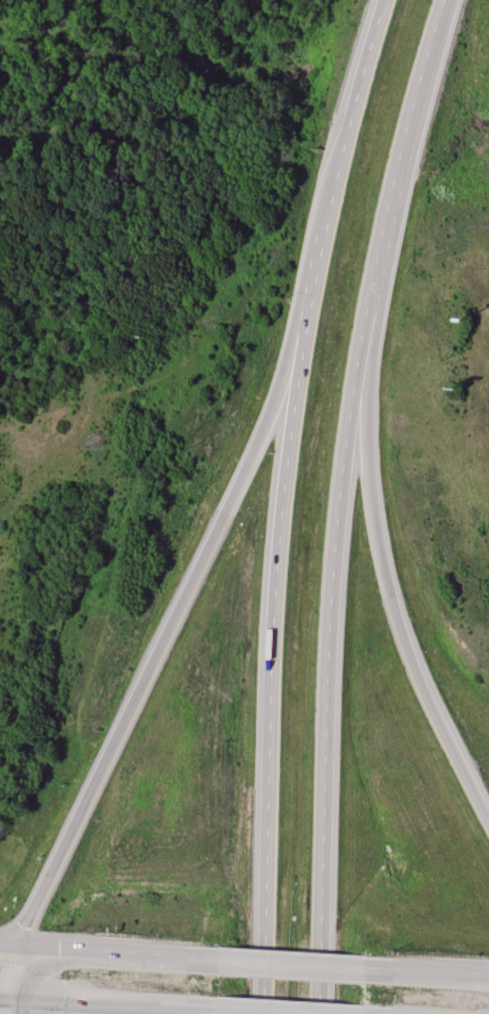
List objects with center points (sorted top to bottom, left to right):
road: (280, 501)
road: (339, 501)
road: (380, 554)
road: (177, 606)
road: (9, 948)
road: (120, 954)
road: (292, 964)
road: (426, 972)
road: (19, 976)
road: (9, 1002)
road: (19, 1008)
road: (122, 1008)
road: (232, 1013)

